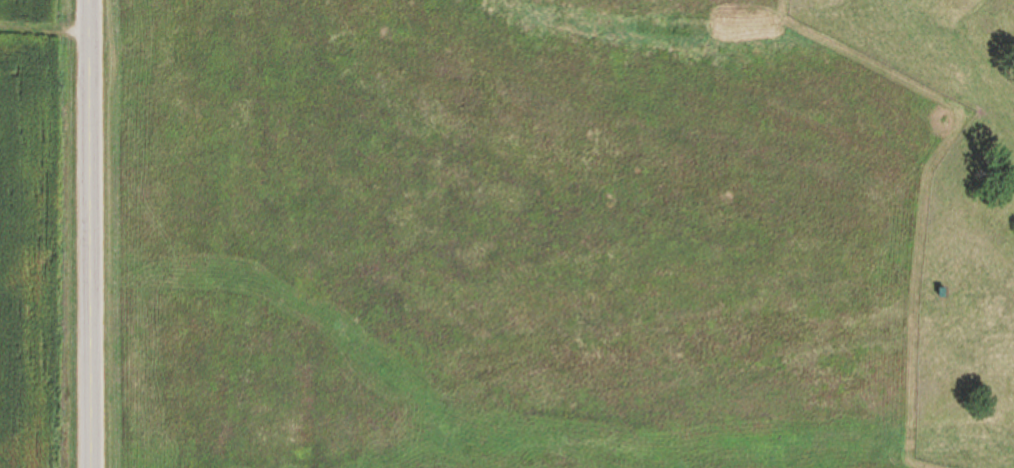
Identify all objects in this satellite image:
road: (94, 234)

